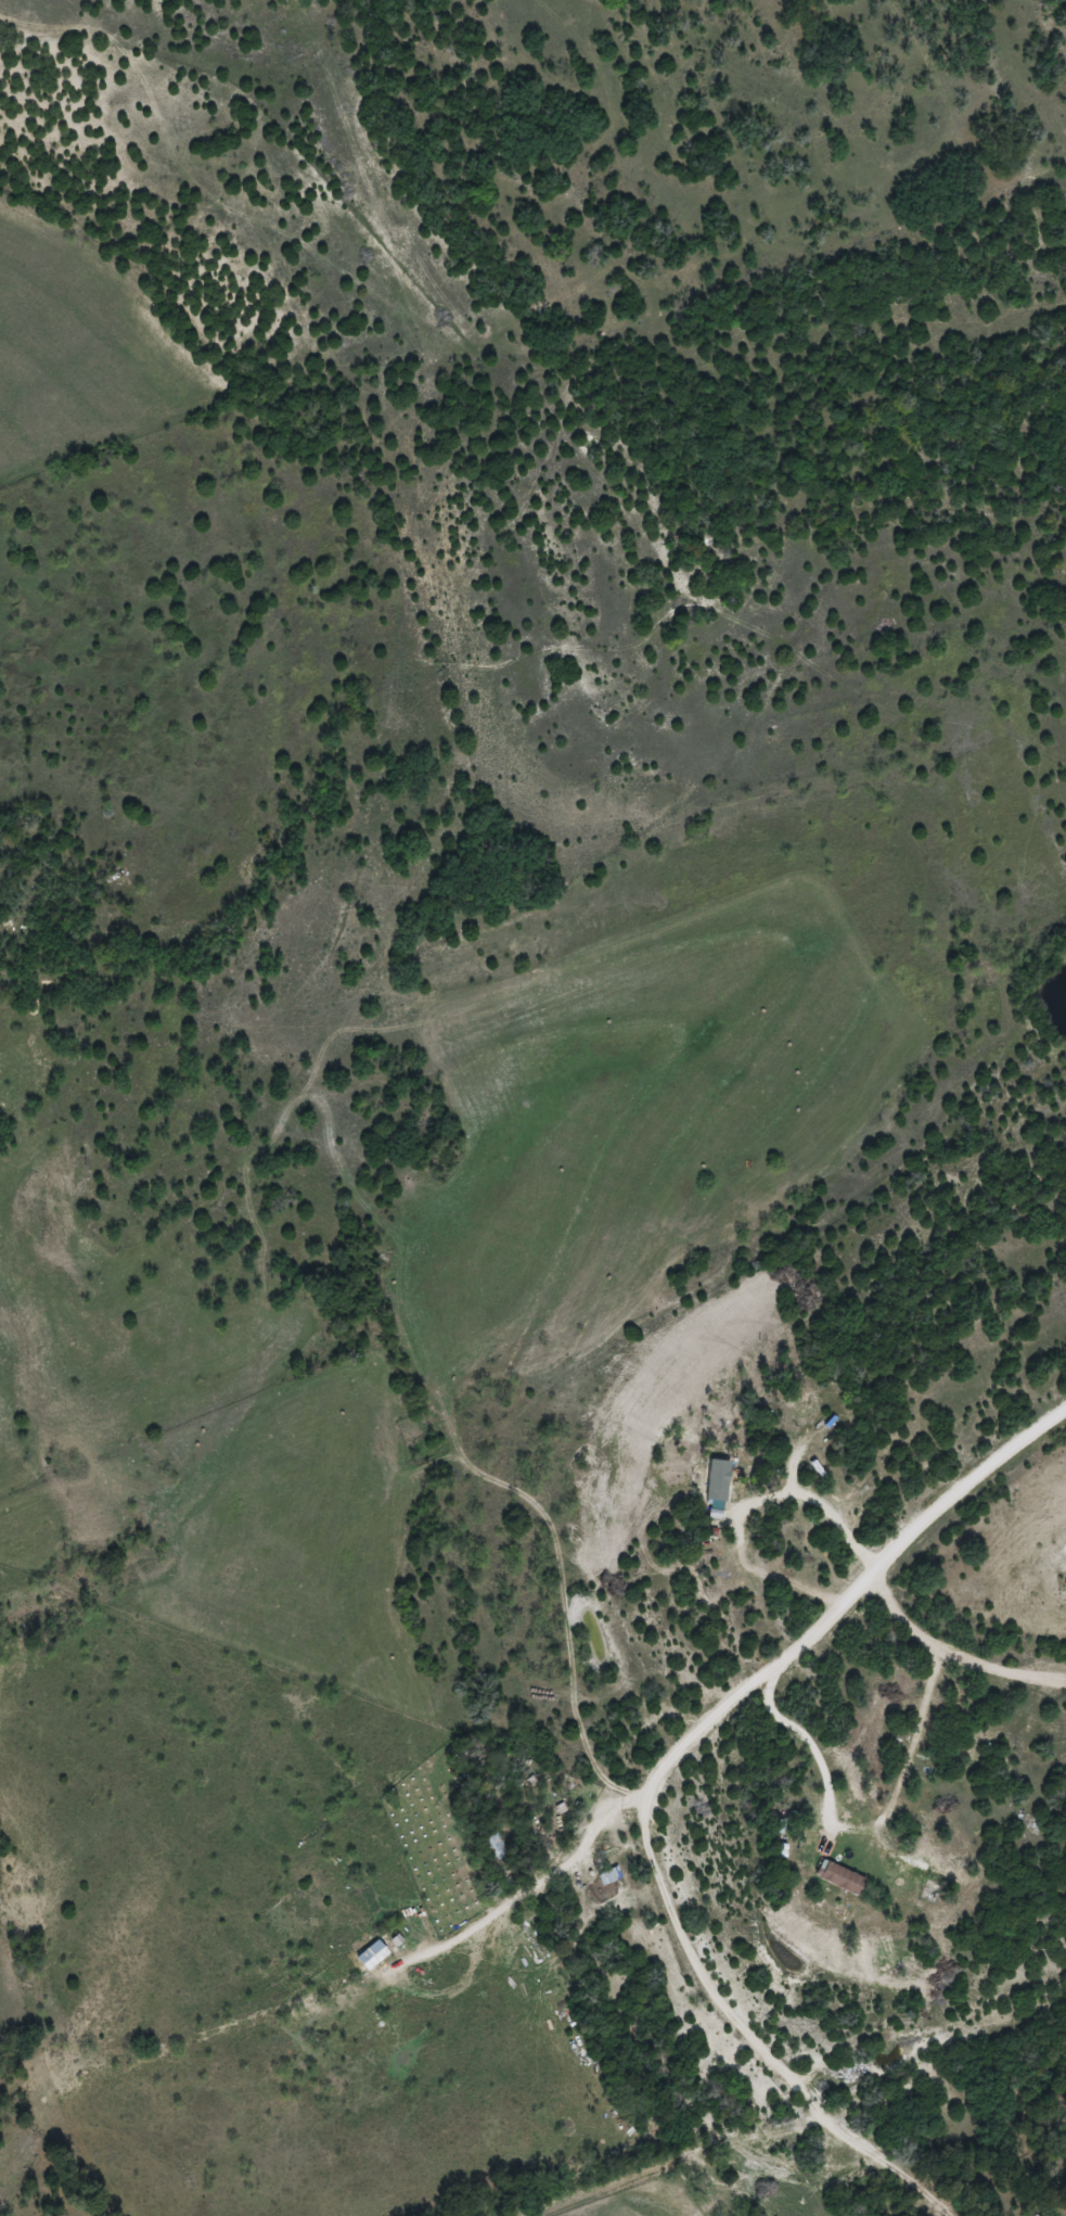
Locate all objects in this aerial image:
building: (715, 1479)
road: (755, 1512)
road: (951, 1663)
road: (669, 1774)
road: (853, 1835)
building: (607, 1875)
building: (838, 1877)
building: (370, 1956)
road: (344, 1999)

